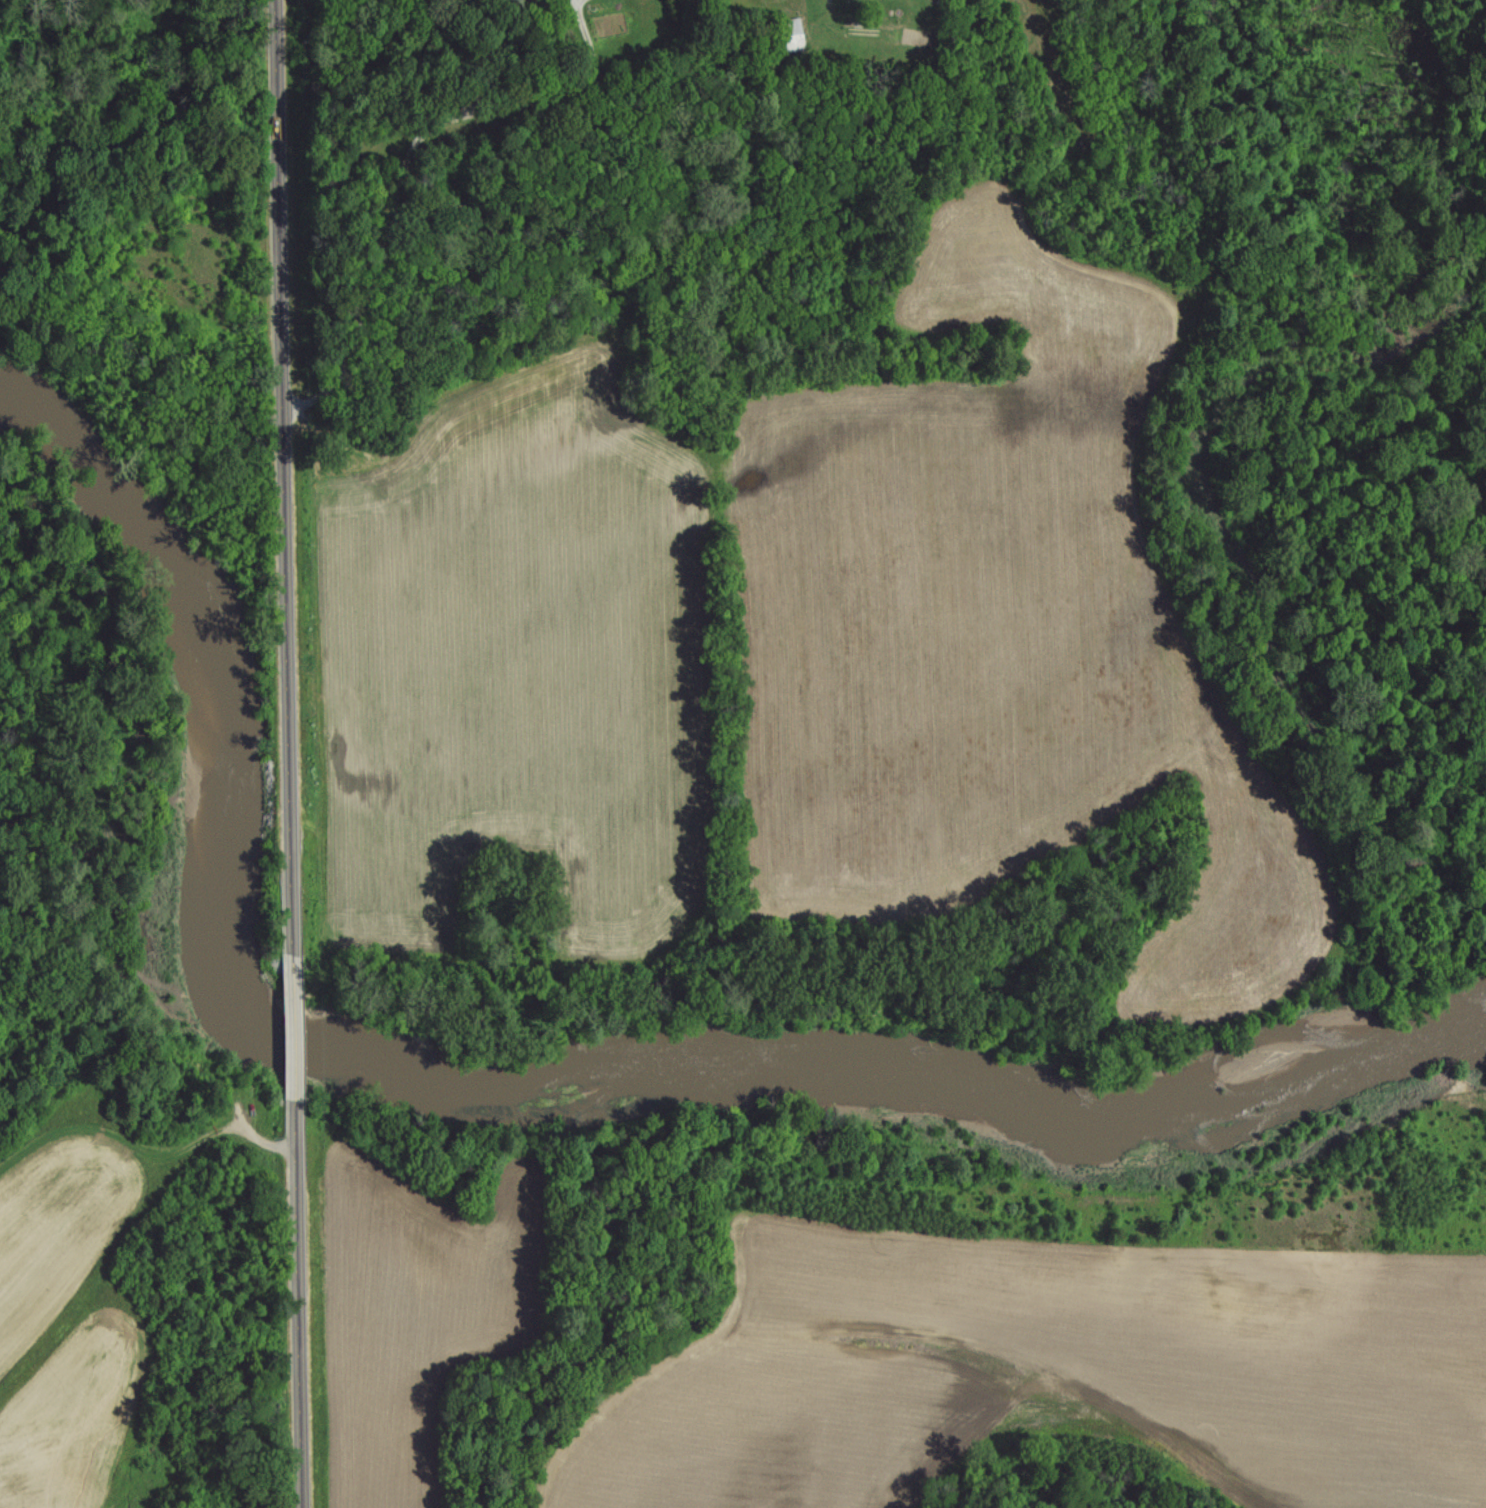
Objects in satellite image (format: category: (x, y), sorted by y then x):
road: (281, 476)
road: (297, 1027)
river: (522, 1074)
road: (299, 1304)

